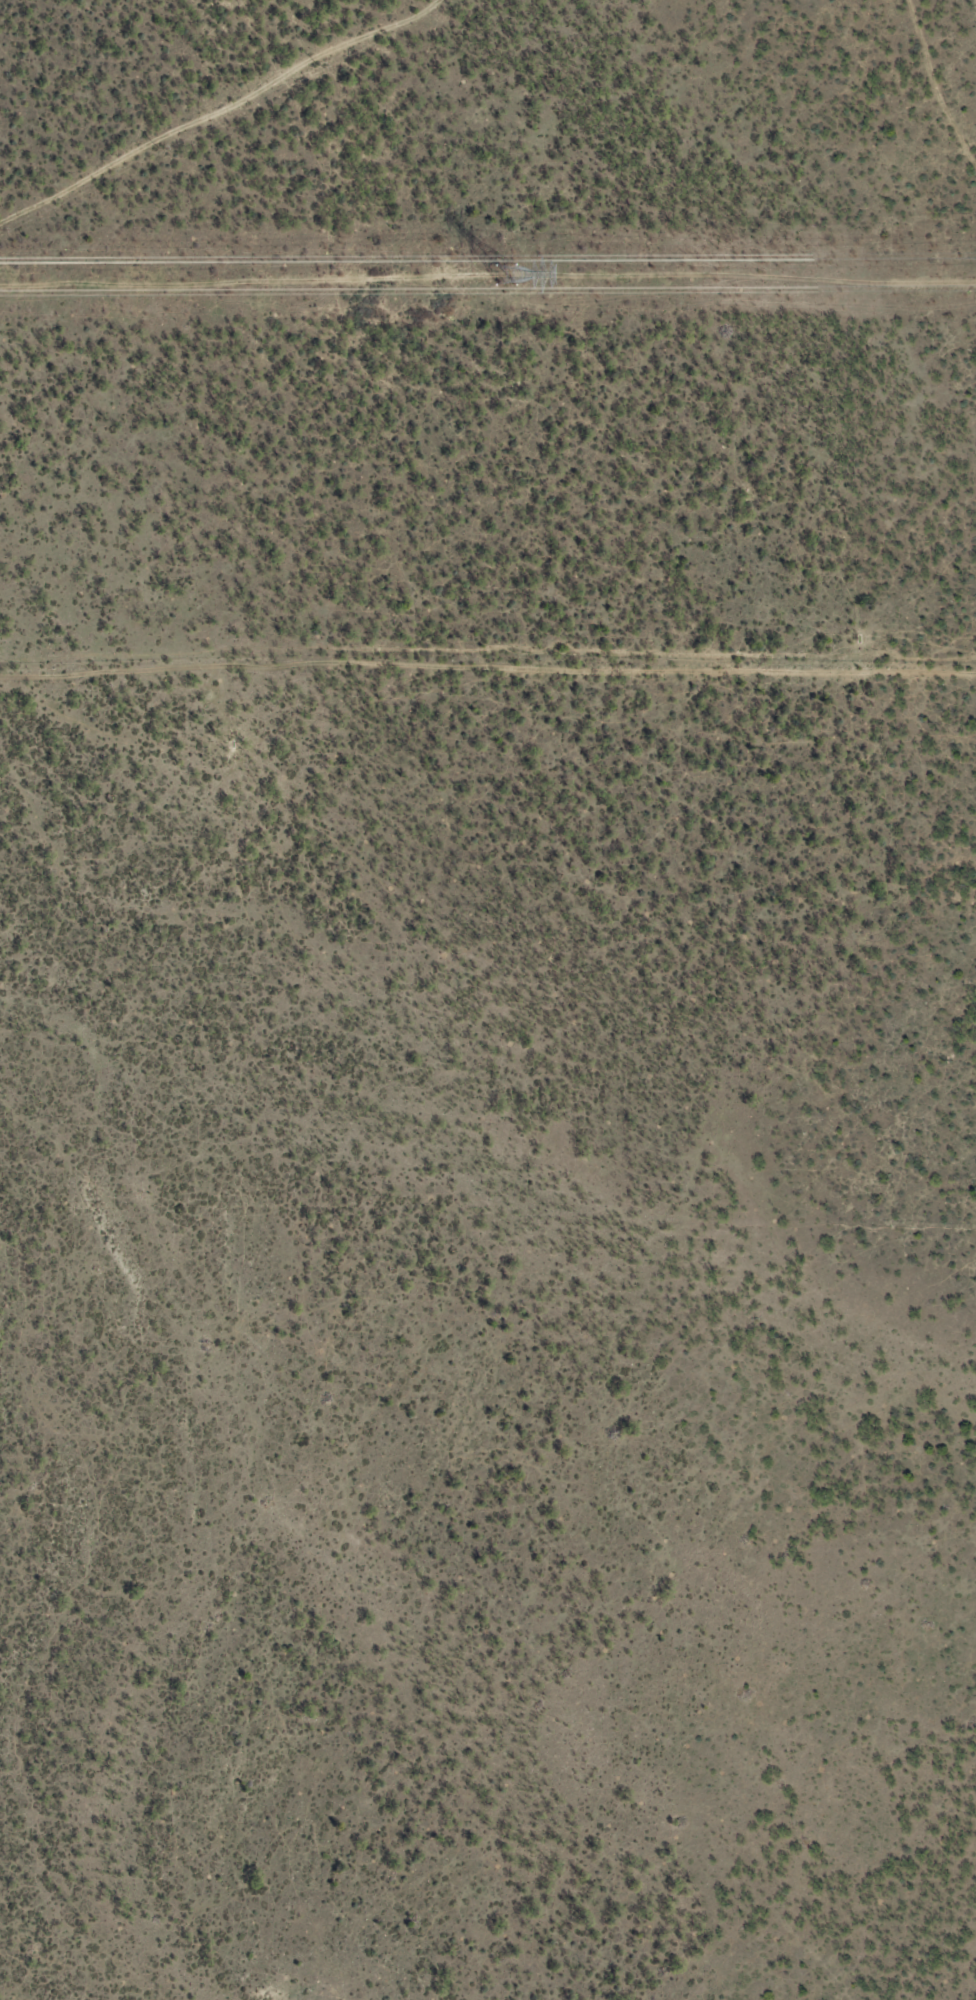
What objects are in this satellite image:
road: (905, 135)
power tower: (507, 275)

